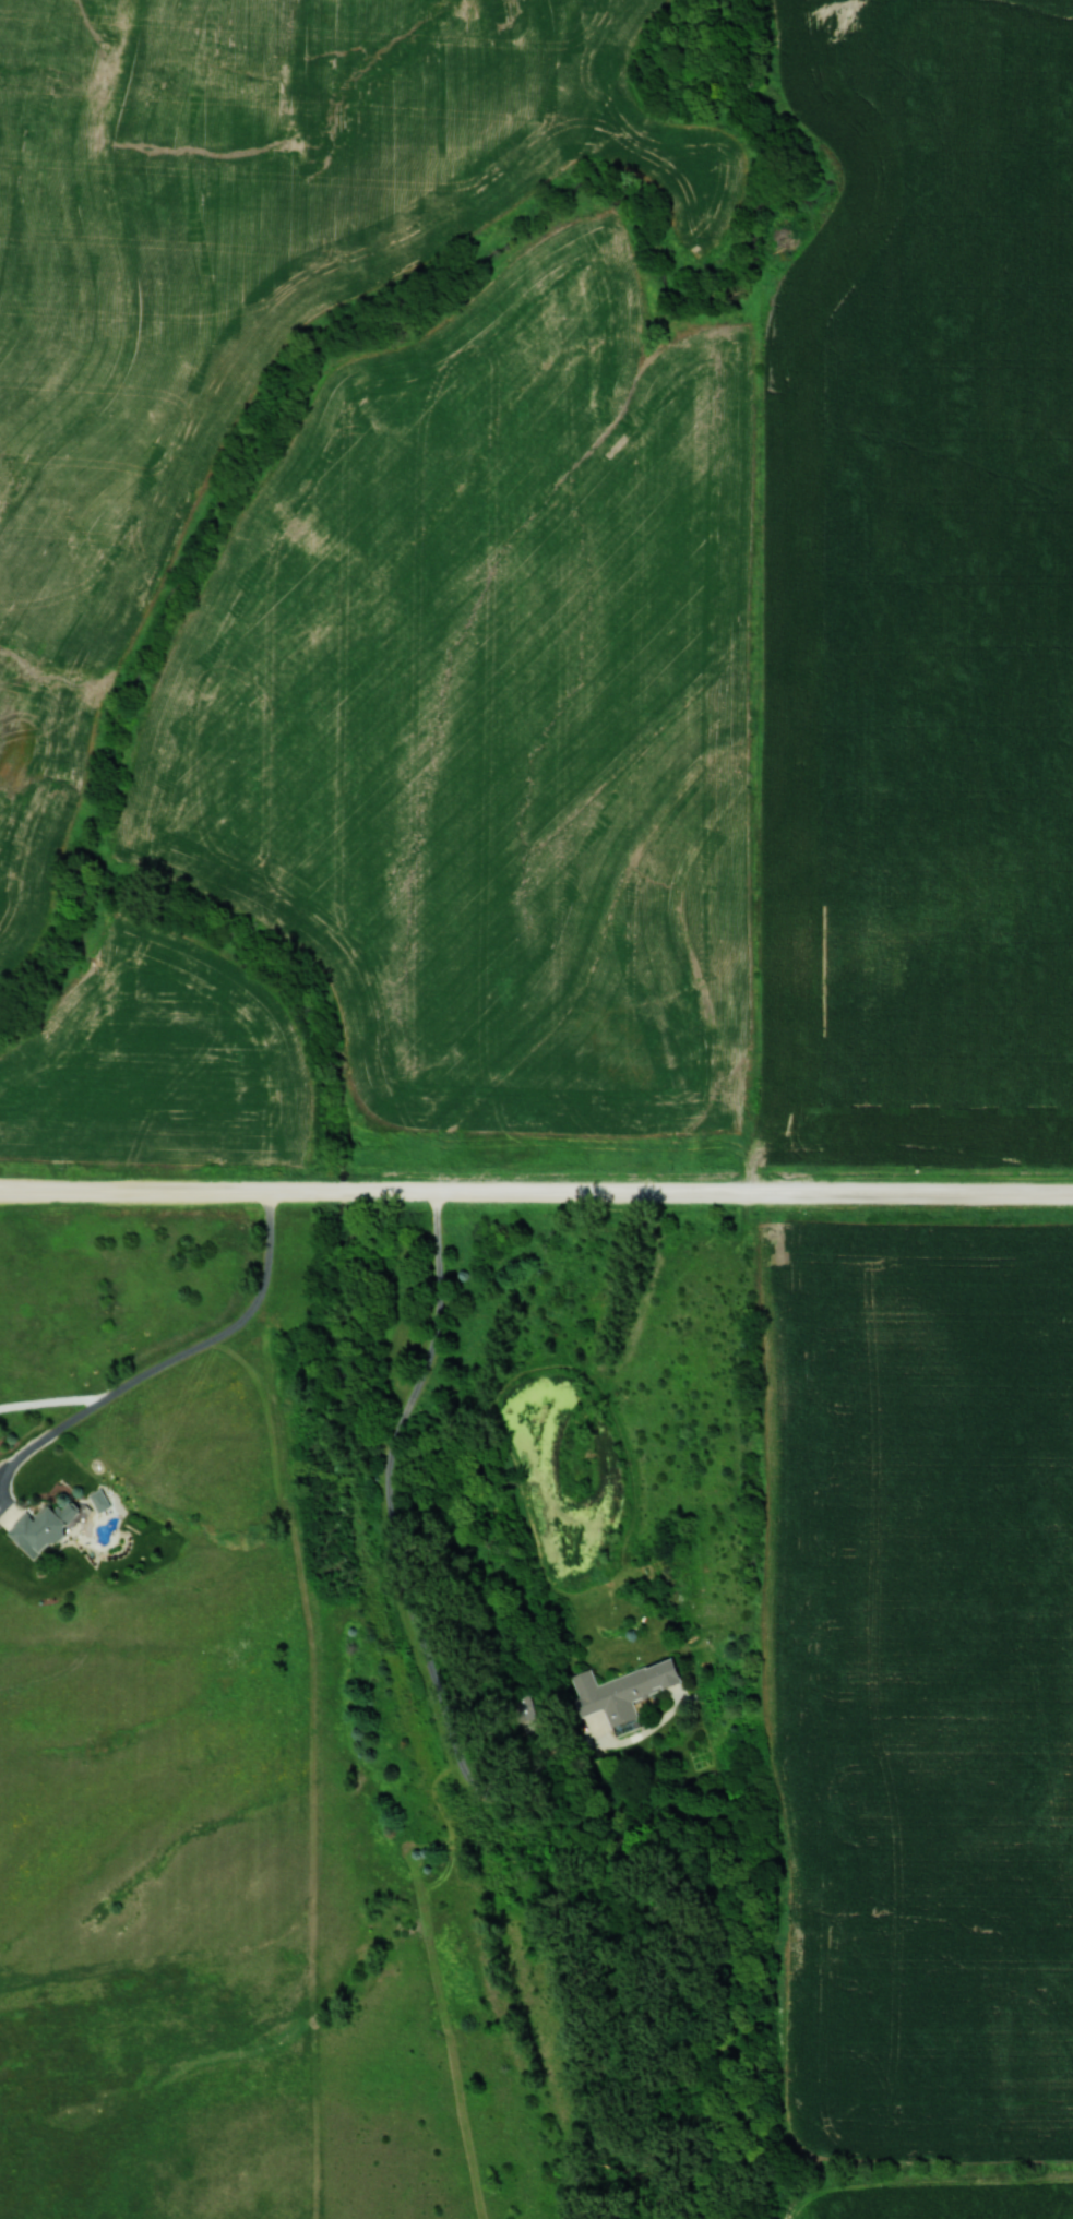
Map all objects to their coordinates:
crop: (238, 278)
crop: (922, 599)
crop: (492, 713)
crop: (162, 1061)
road: (536, 1192)
road: (160, 1365)
building: (41, 1525)
road: (403, 1565)
building: (621, 1692)
crop: (949, 2203)

